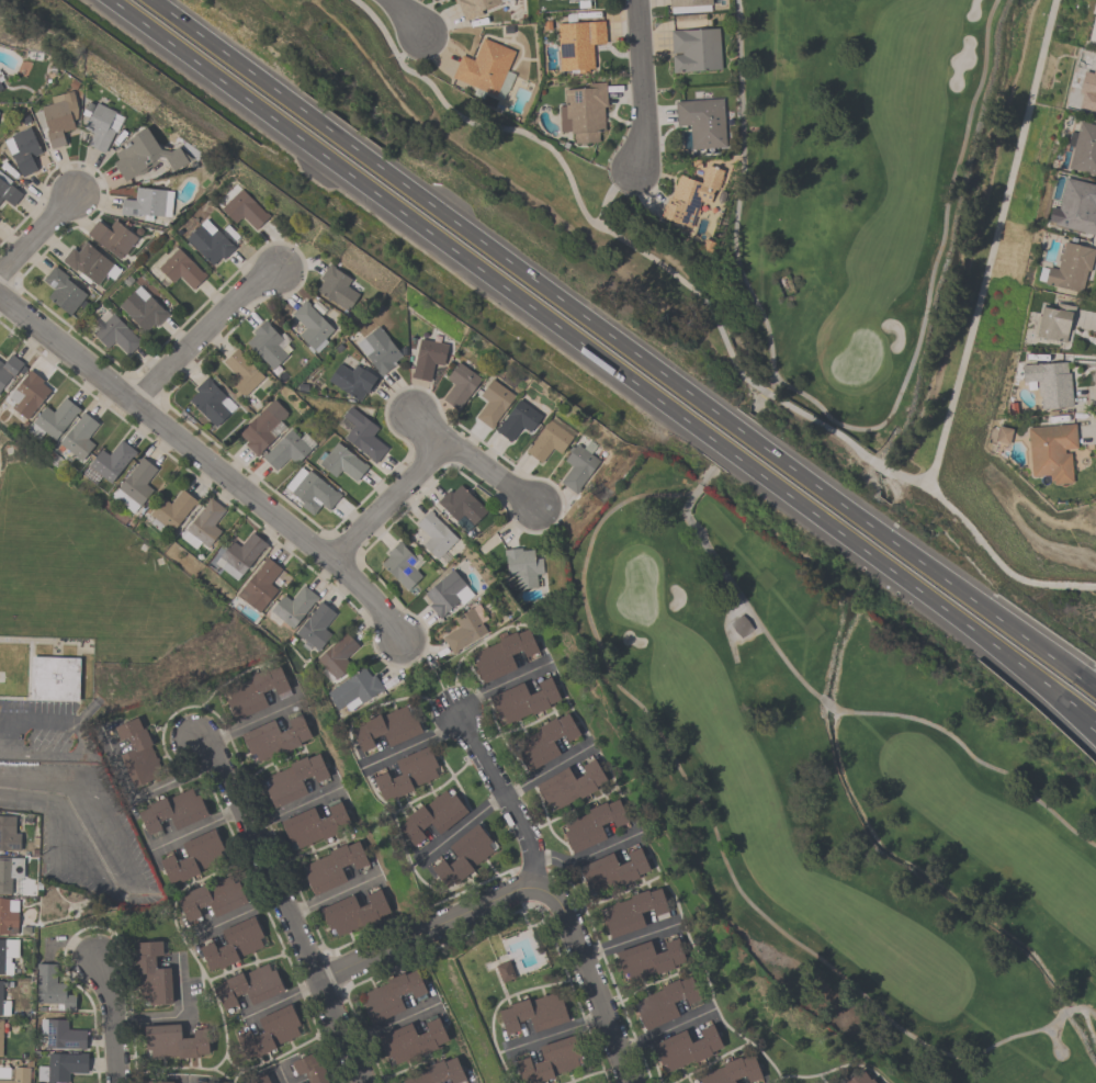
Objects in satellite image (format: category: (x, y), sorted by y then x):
building: (689, 5)
building: (474, 7)
road: (403, 13)
building: (1093, 30)
building: (577, 45)
building: (694, 49)
building: (486, 68)
road: (640, 82)
building: (0, 88)
building: (1088, 90)
building: (583, 112)
building: (58, 117)
building: (701, 122)
building: (99, 126)
building: (1084, 148)
building: (23, 149)
building: (144, 156)
building: (8, 191)
building: (690, 196)
building: (144, 203)
building: (240, 206)
building: (1076, 207)
road: (36, 230)
building: (112, 237)
building: (208, 244)
road: (632, 247)
building: (89, 263)
building: (1070, 268)
building: (180, 269)
road: (931, 275)
building: (336, 287)
building: (61, 290)
building: (142, 308)
building: (1054, 321)
building: (310, 326)
road: (202, 332)
building: (114, 334)
building: (267, 345)
road: (967, 345)
road: (620, 347)
building: (378, 350)
road: (586, 351)
building: (428, 356)
building: (8, 369)
building: (241, 372)
building: (352, 381)
building: (1049, 383)
building: (460, 384)
building: (27, 394)
building: (211, 401)
building: (493, 402)
building: (53, 419)
building: (517, 420)
building: (261, 427)
road: (425, 428)
building: (362, 435)
building: (78, 438)
building: (547, 441)
building: (285, 450)
building: (1051, 451)
road: (204, 459)
road: (426, 459)
building: (109, 463)
building: (577, 467)
building: (135, 486)
building: (310, 490)
building: (461, 504)
building: (172, 509)
building: (205, 522)
building: (434, 534)
building: (239, 555)
park: (688, 556)
building: (400, 566)
building: (522, 566)
building: (259, 585)
building: (447, 593)
building: (293, 606)
building: (737, 625)
building: (316, 627)
building: (464, 630)
building: (501, 654)
building: (337, 656)
building: (55, 678)
road: (500, 682)
building: (353, 690)
building: (255, 691)
building: (523, 700)
road: (1080, 718)
road: (246, 721)
building: (386, 729)
building: (274, 737)
building: (544, 741)
road: (411, 743)
road: (86, 745)
building: (137, 753)
road: (547, 769)
building: (407, 774)
building: (293, 779)
building: (569, 785)
road: (505, 793)
road: (138, 796)
road: (30, 800)
road: (289, 808)
building: (173, 810)
building: (431, 816)
building: (314, 824)
building: (591, 824)
road: (459, 825)
road: (194, 830)
building: (8, 834)
road: (123, 853)
building: (463, 856)
building: (194, 857)
road: (587, 857)
building: (331, 867)
building: (613, 869)
building: (9, 871)
road: (330, 894)
building: (212, 898)
road: (280, 904)
building: (633, 912)
road: (233, 913)
building: (352, 913)
building: (8, 916)
road: (426, 930)
road: (626, 940)
building: (234, 943)
building: (7, 954)
building: (648, 959)
building: (506, 972)
building: (151, 975)
road: (588, 978)
building: (249, 985)
building: (52, 988)
building: (391, 995)
road: (278, 999)
building: (665, 1002)
building: (3, 1005)
building: (533, 1013)
road: (178, 1016)
road: (114, 1017)
road: (391, 1023)
road: (665, 1028)
road: (554, 1030)
building: (269, 1033)
building: (60, 1034)
building: (1, 1038)
building: (411, 1040)
building: (173, 1042)
building: (685, 1048)
building: (550, 1060)
building: (61, 1067)
building: (310, 1068)
building: (732, 1071)
building: (438, 1072)
road: (282, 1073)
building: (18, 1075)
building: (858, 1078)
road: (187, 1080)
building: (259, 1080)
building: (158, 1082)
road: (822, 1082)

